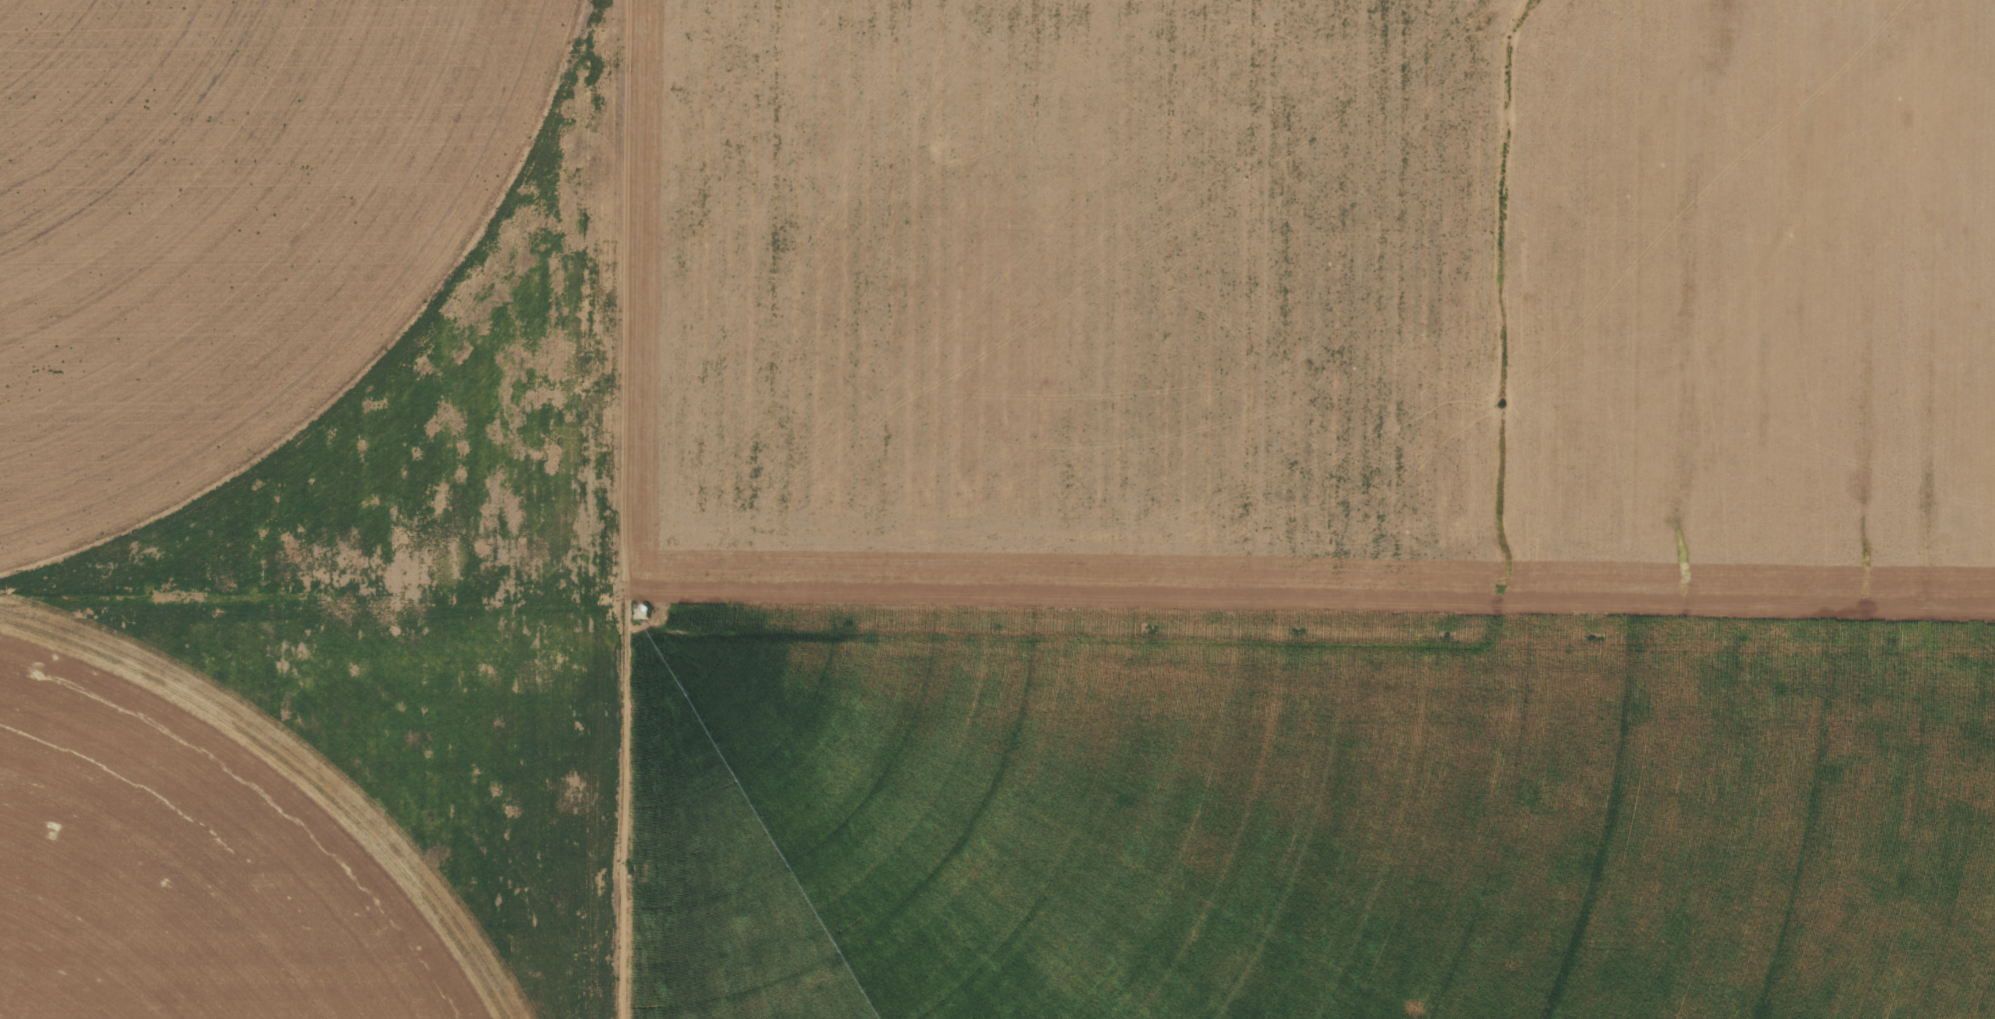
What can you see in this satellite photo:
road: (609, 509)
road: (304, 601)
road: (1304, 898)

